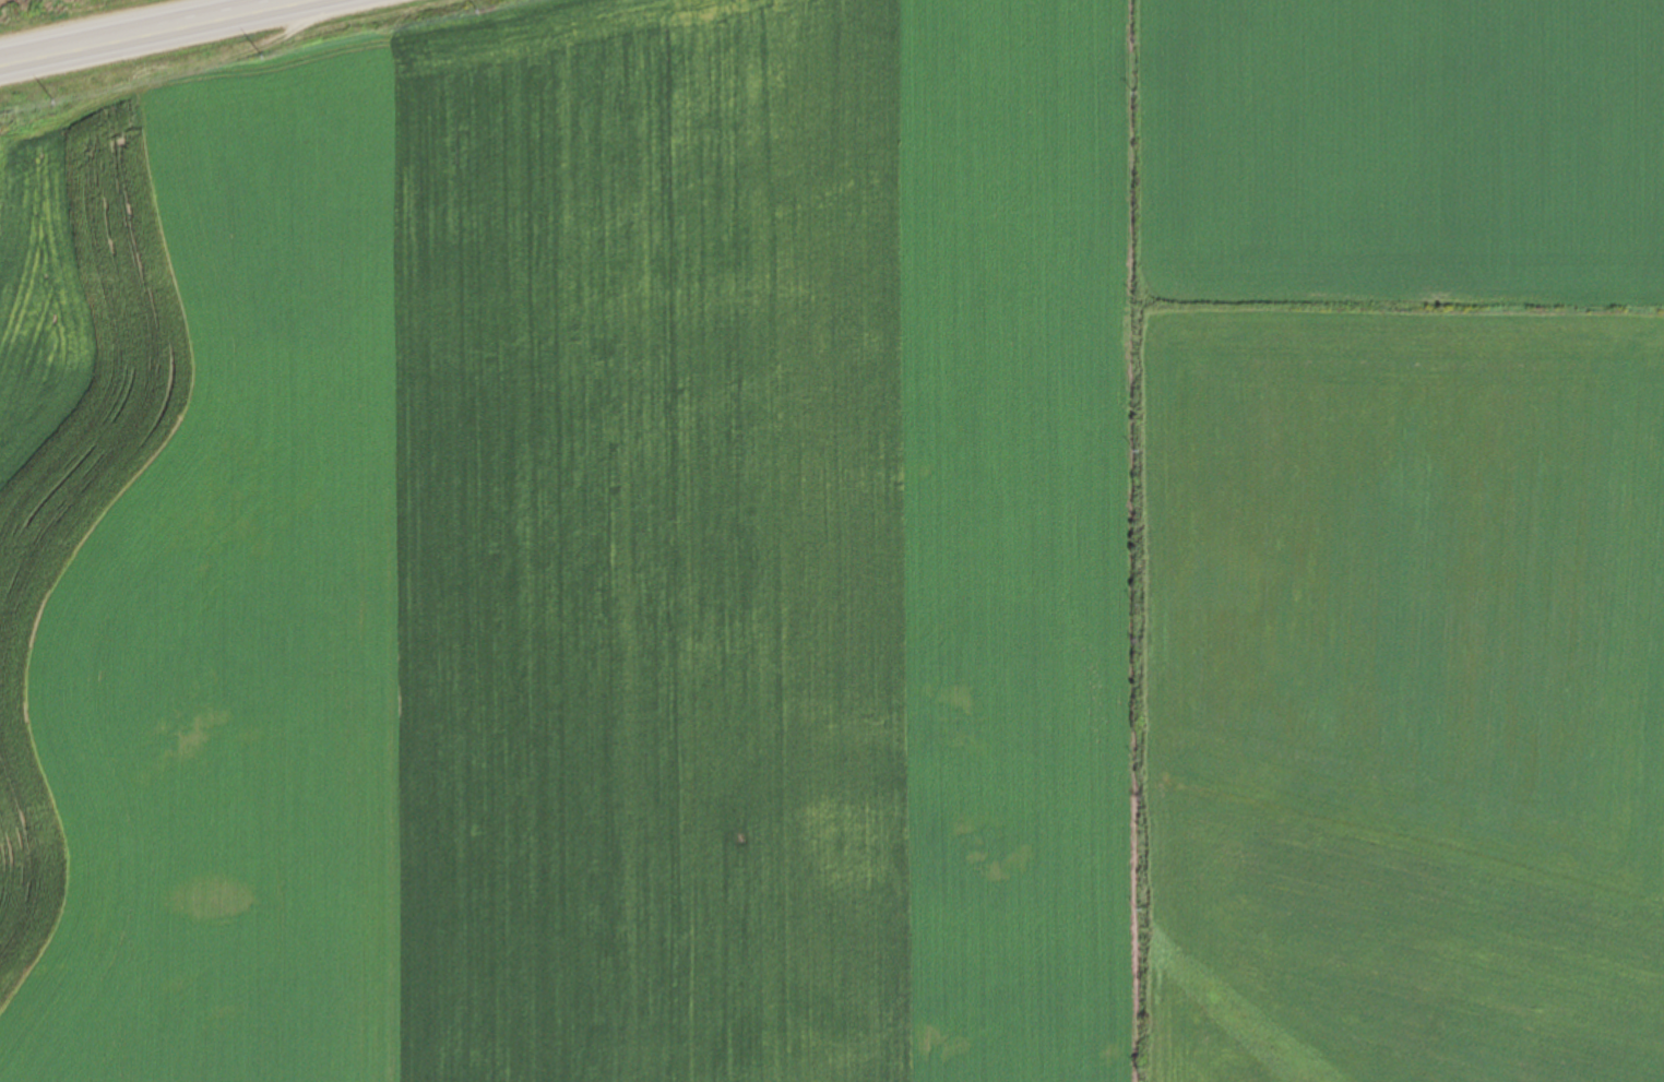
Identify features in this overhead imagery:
road: (135, 29)

